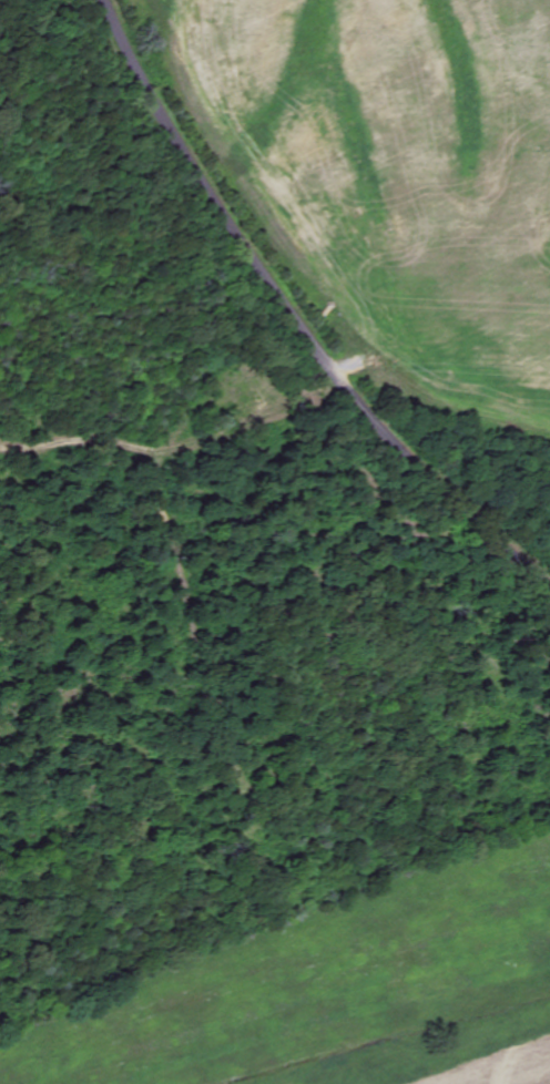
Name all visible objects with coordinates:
road: (295, 319)

